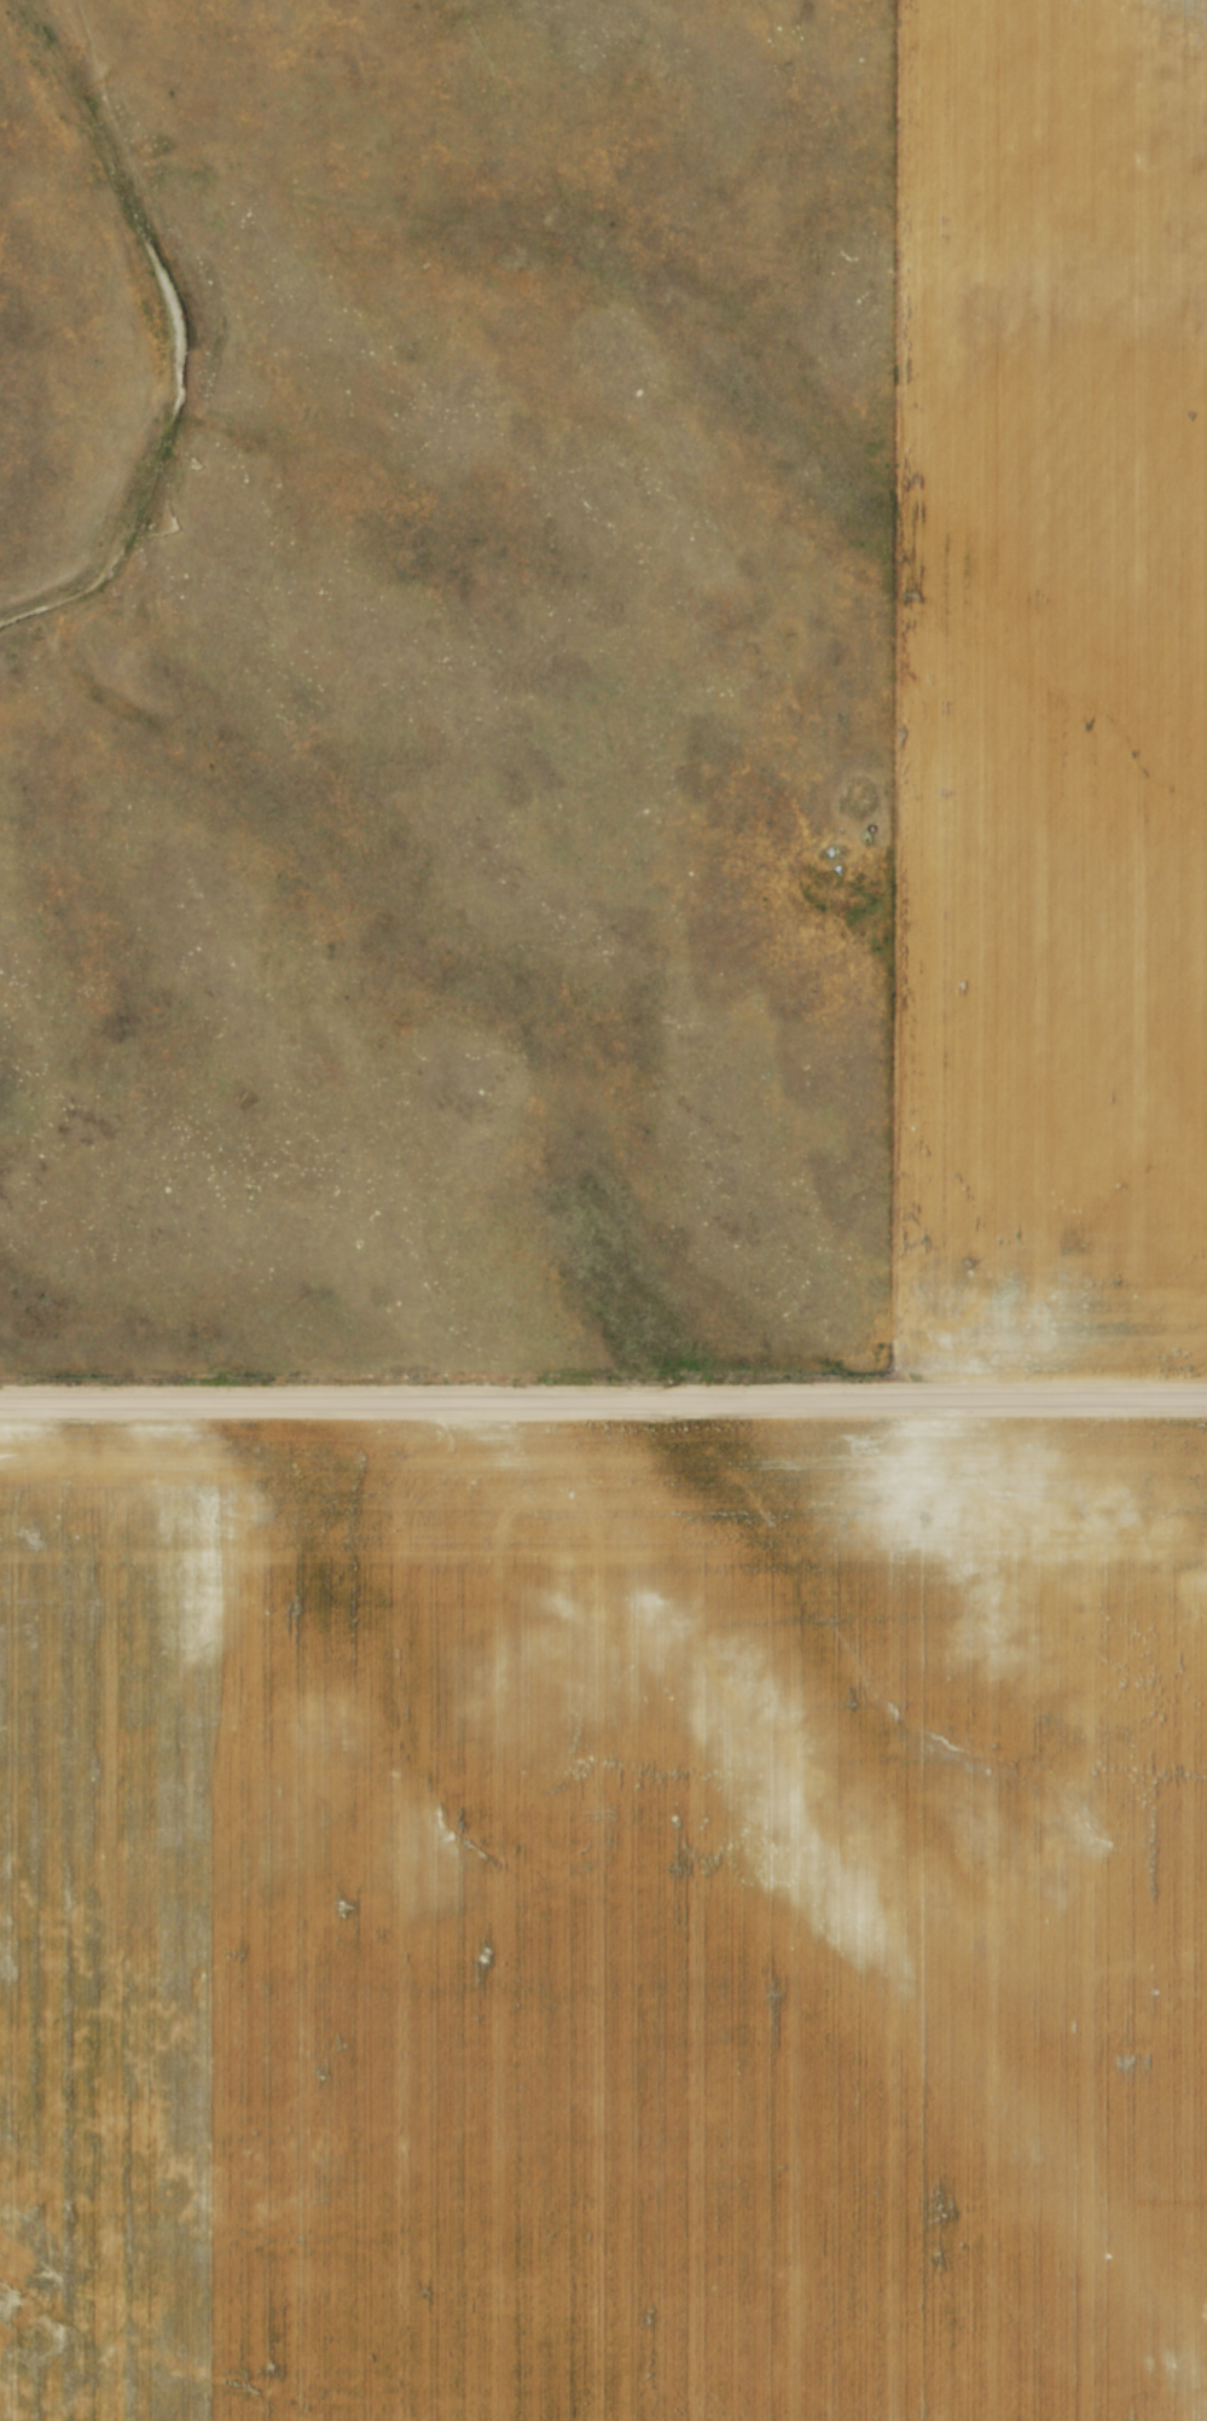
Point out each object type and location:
crop: (1050, 685)
road: (603, 1409)
crop: (603, 1923)

